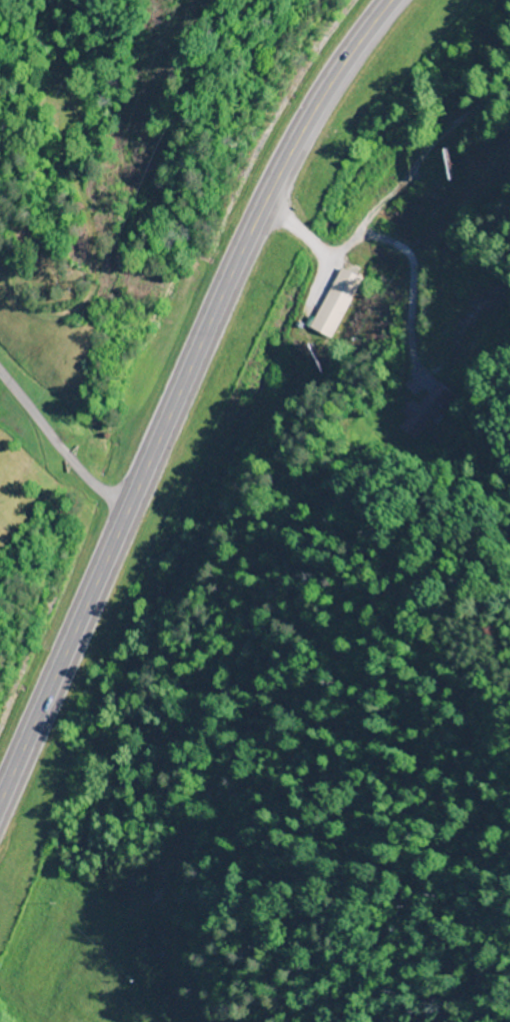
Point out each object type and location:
building: (428, 203)
building: (332, 303)
building: (466, 317)
road: (183, 400)
building: (422, 411)
road: (60, 458)

